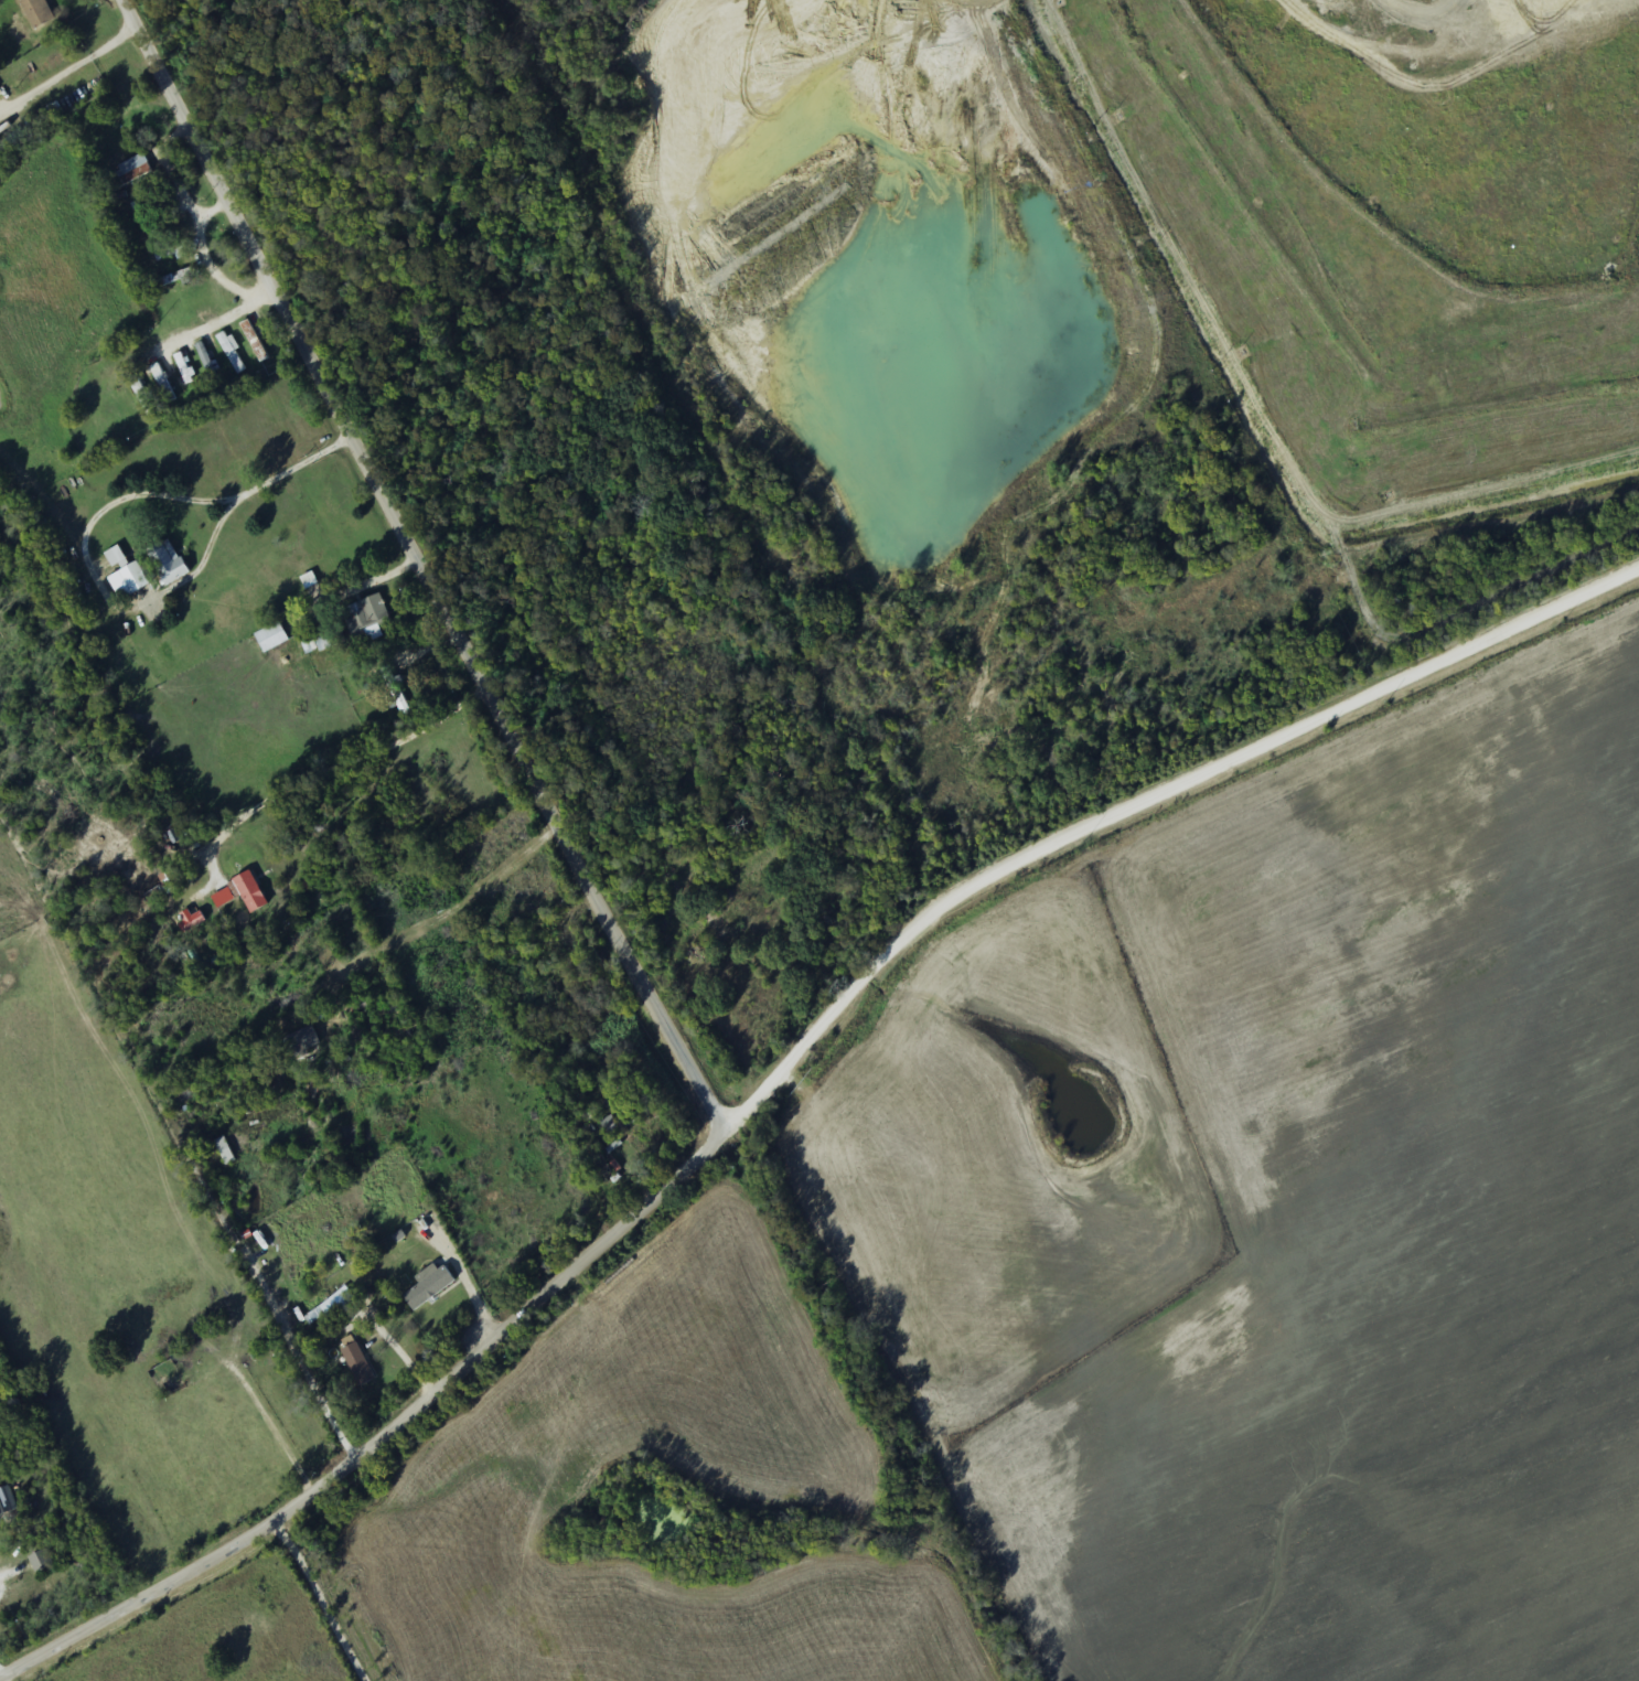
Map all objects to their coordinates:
building: (36, 13)
building: (10, 141)
building: (131, 172)
building: (154, 214)
building: (170, 250)
building: (176, 279)
building: (255, 341)
building: (232, 352)
road: (135, 353)
building: (207, 358)
building: (184, 367)
building: (162, 383)
building: (143, 396)
building: (168, 561)
road: (418, 565)
building: (126, 575)
building: (368, 613)
building: (272, 636)
building: (330, 642)
road: (431, 773)
building: (246, 886)
building: (409, 1031)
building: (302, 1041)
road: (782, 1063)
building: (225, 1150)
building: (430, 1286)
road: (347, 1303)
building: (333, 1307)
building: (172, 1363)
building: (360, 1364)
road: (673, 1497)
road: (202, 1635)

